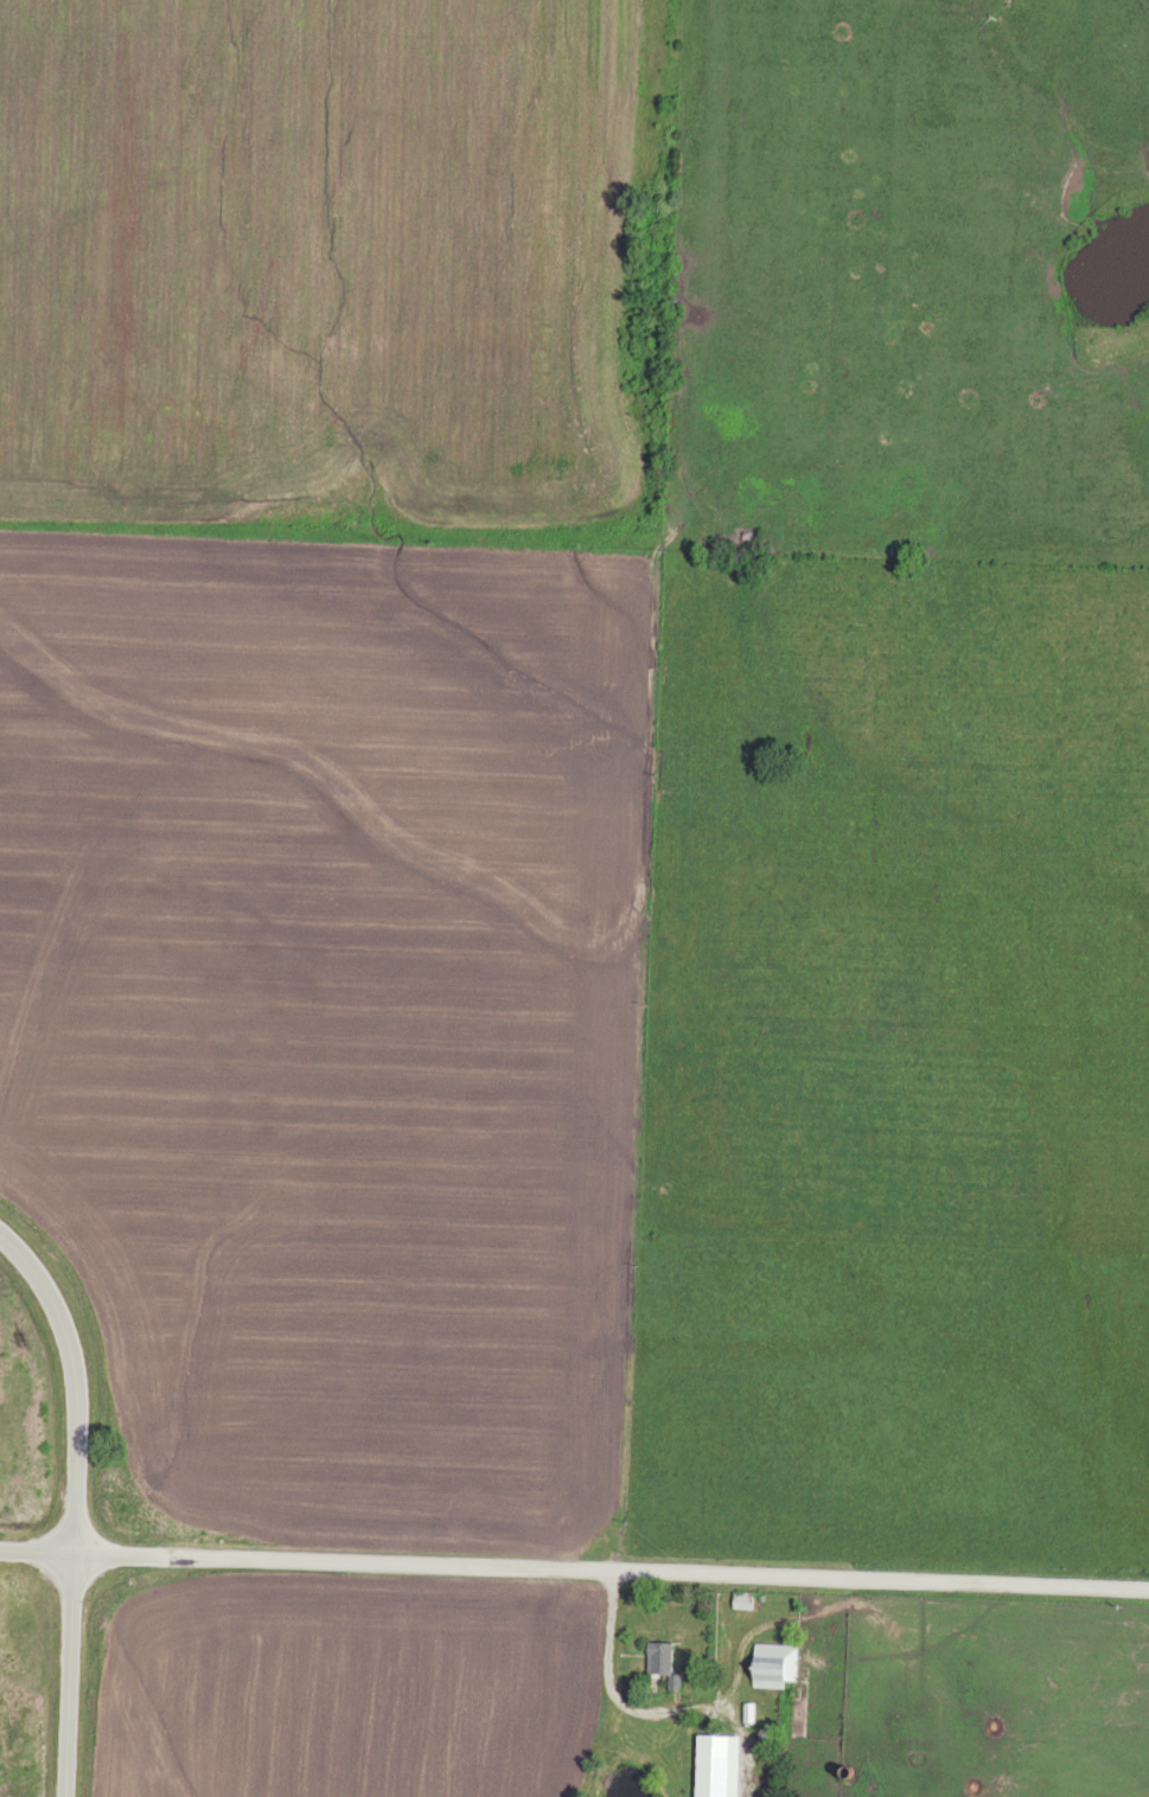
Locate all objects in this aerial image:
road: (74, 1505)
road: (574, 1572)
building: (663, 1664)
building: (774, 1665)
road: (611, 1689)
building: (719, 1765)

